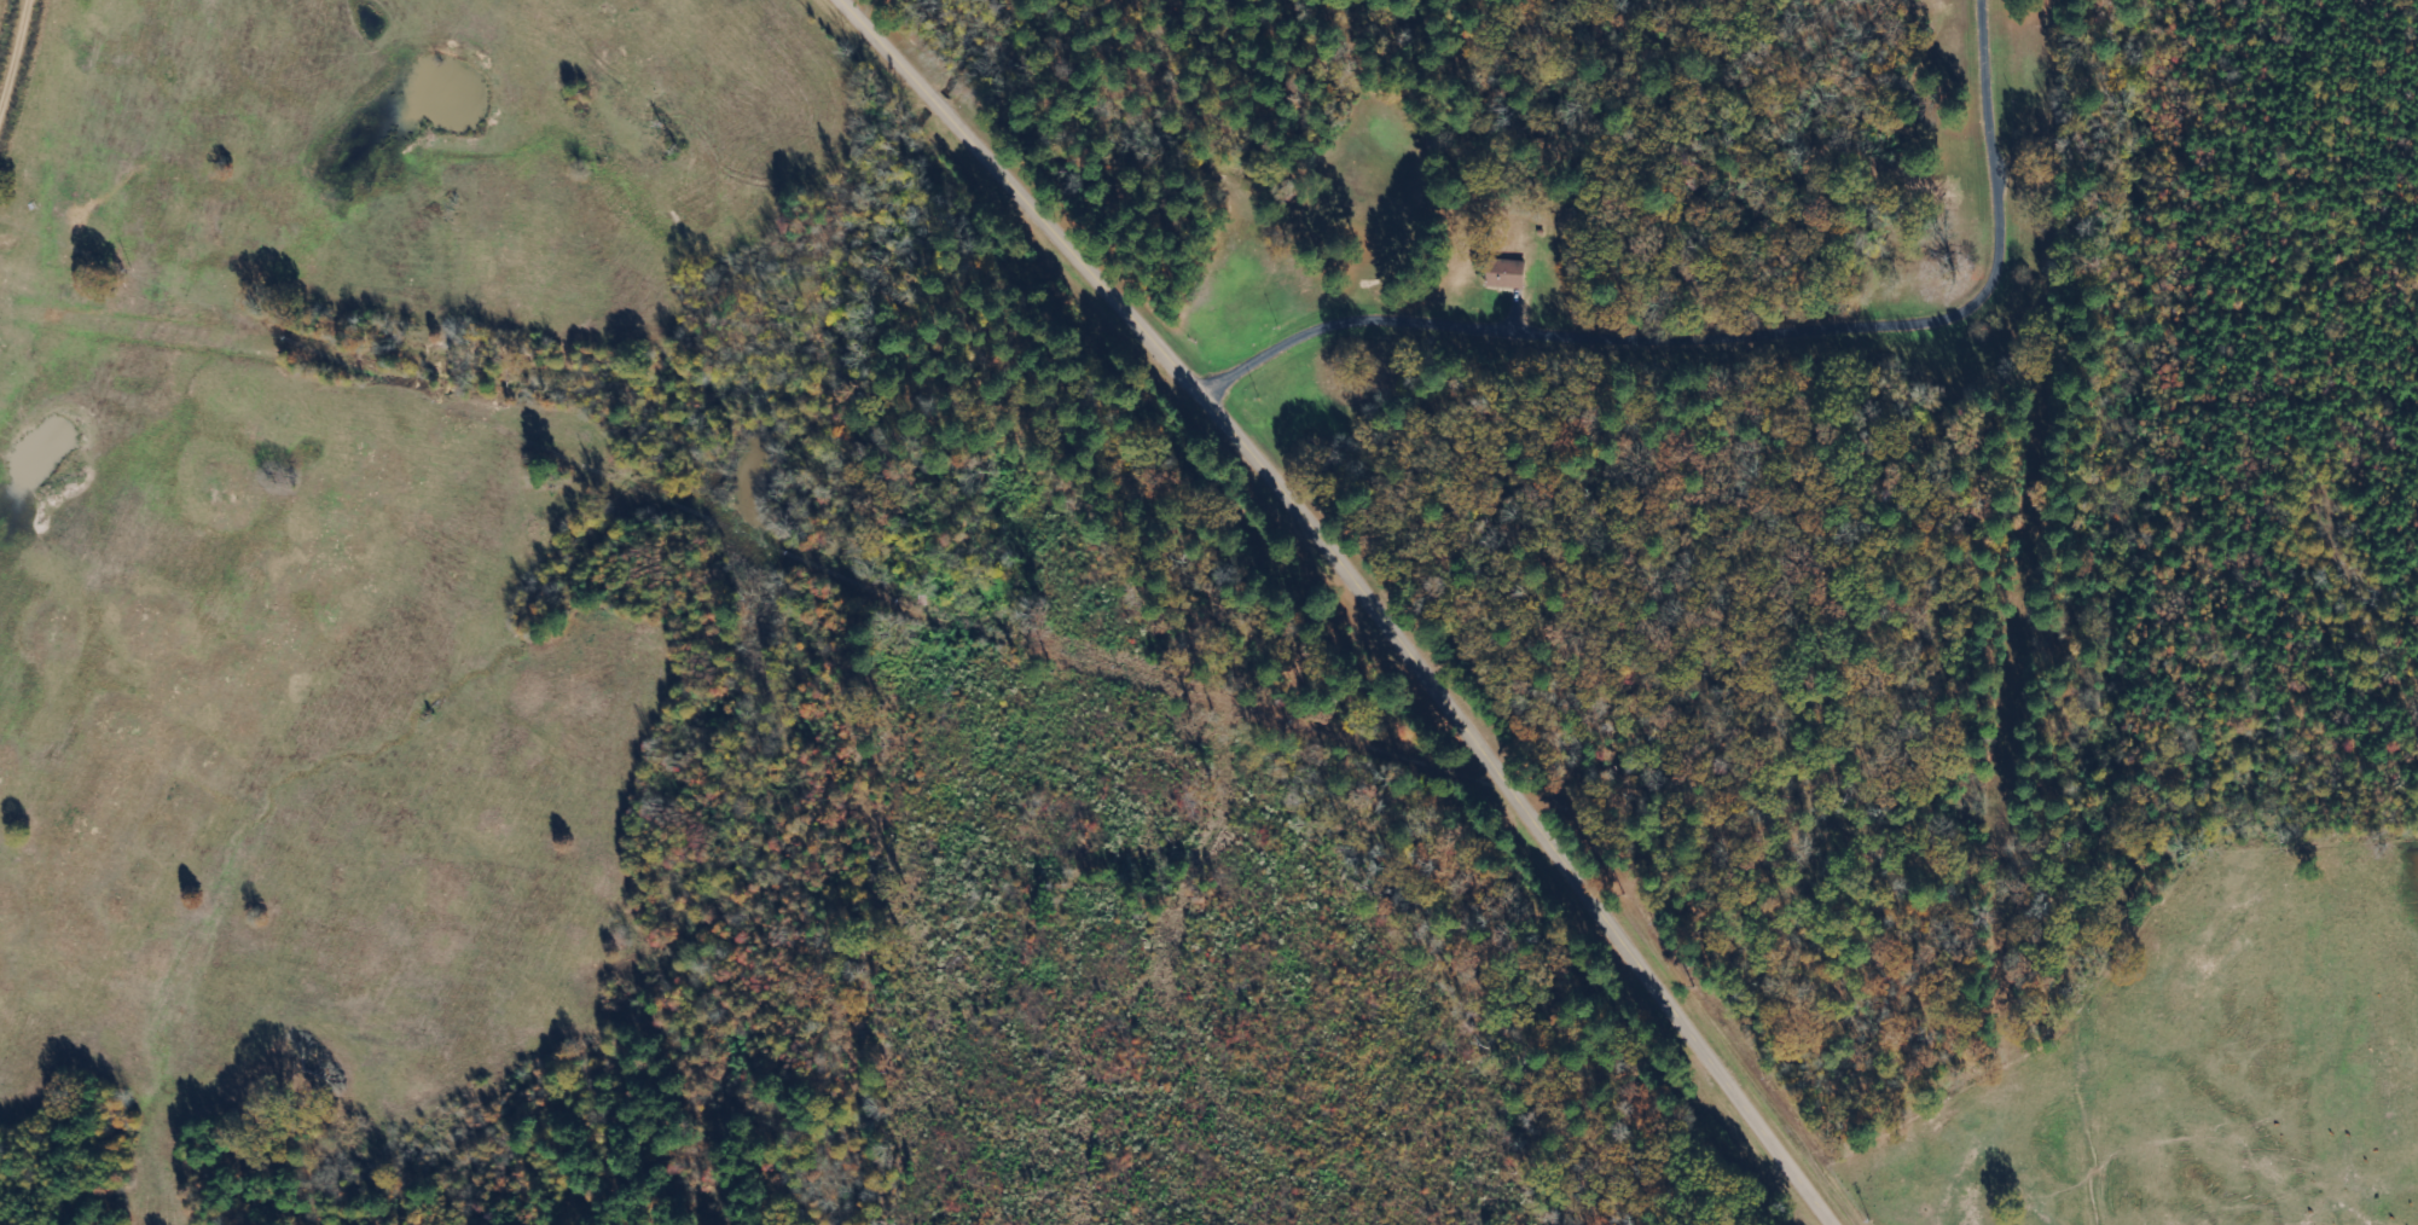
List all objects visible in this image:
road: (18, 60)
road: (988, 159)
building: (1515, 273)
road: (1490, 766)
road: (2075, 919)

